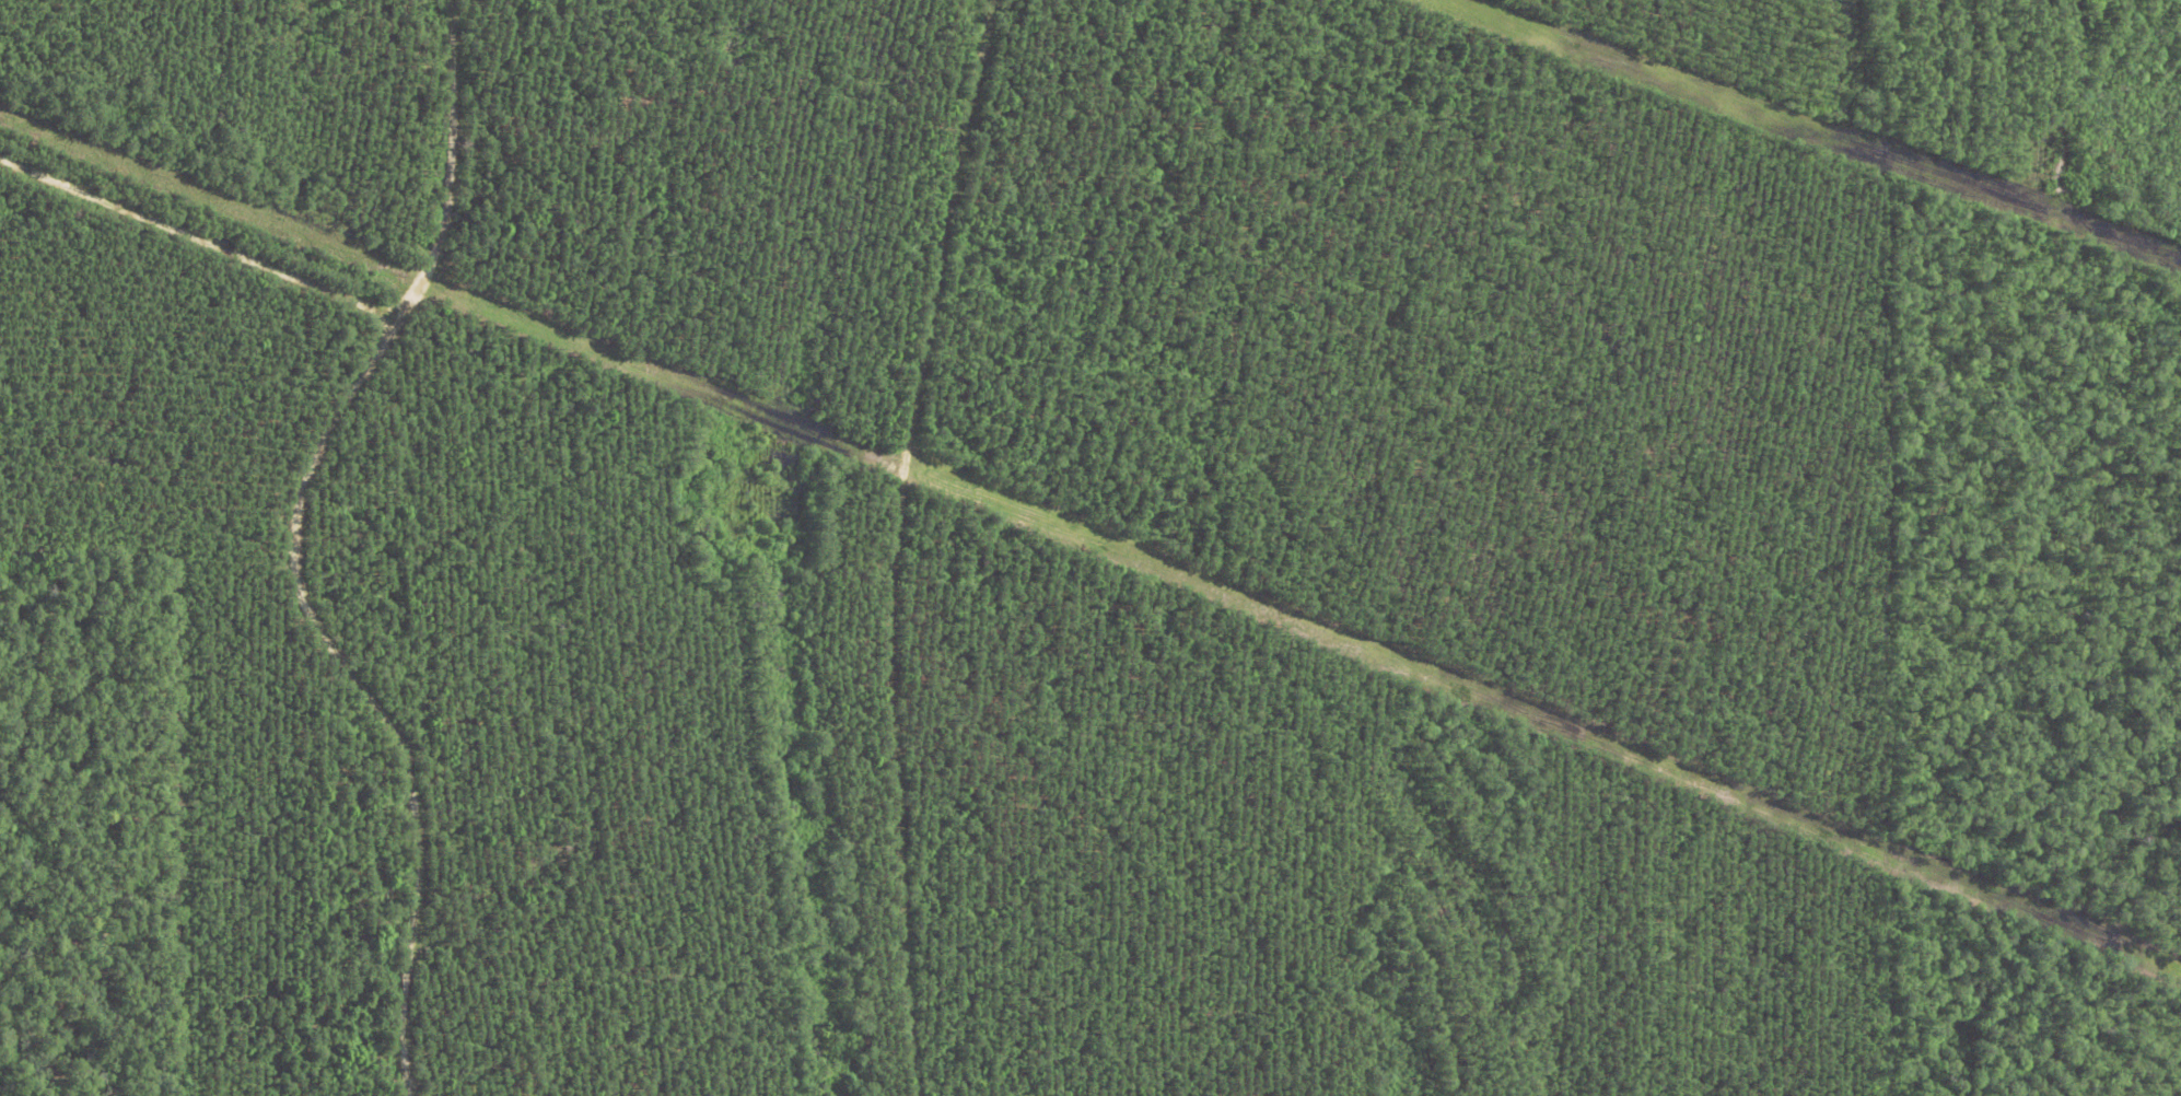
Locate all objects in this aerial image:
road: (891, 544)

